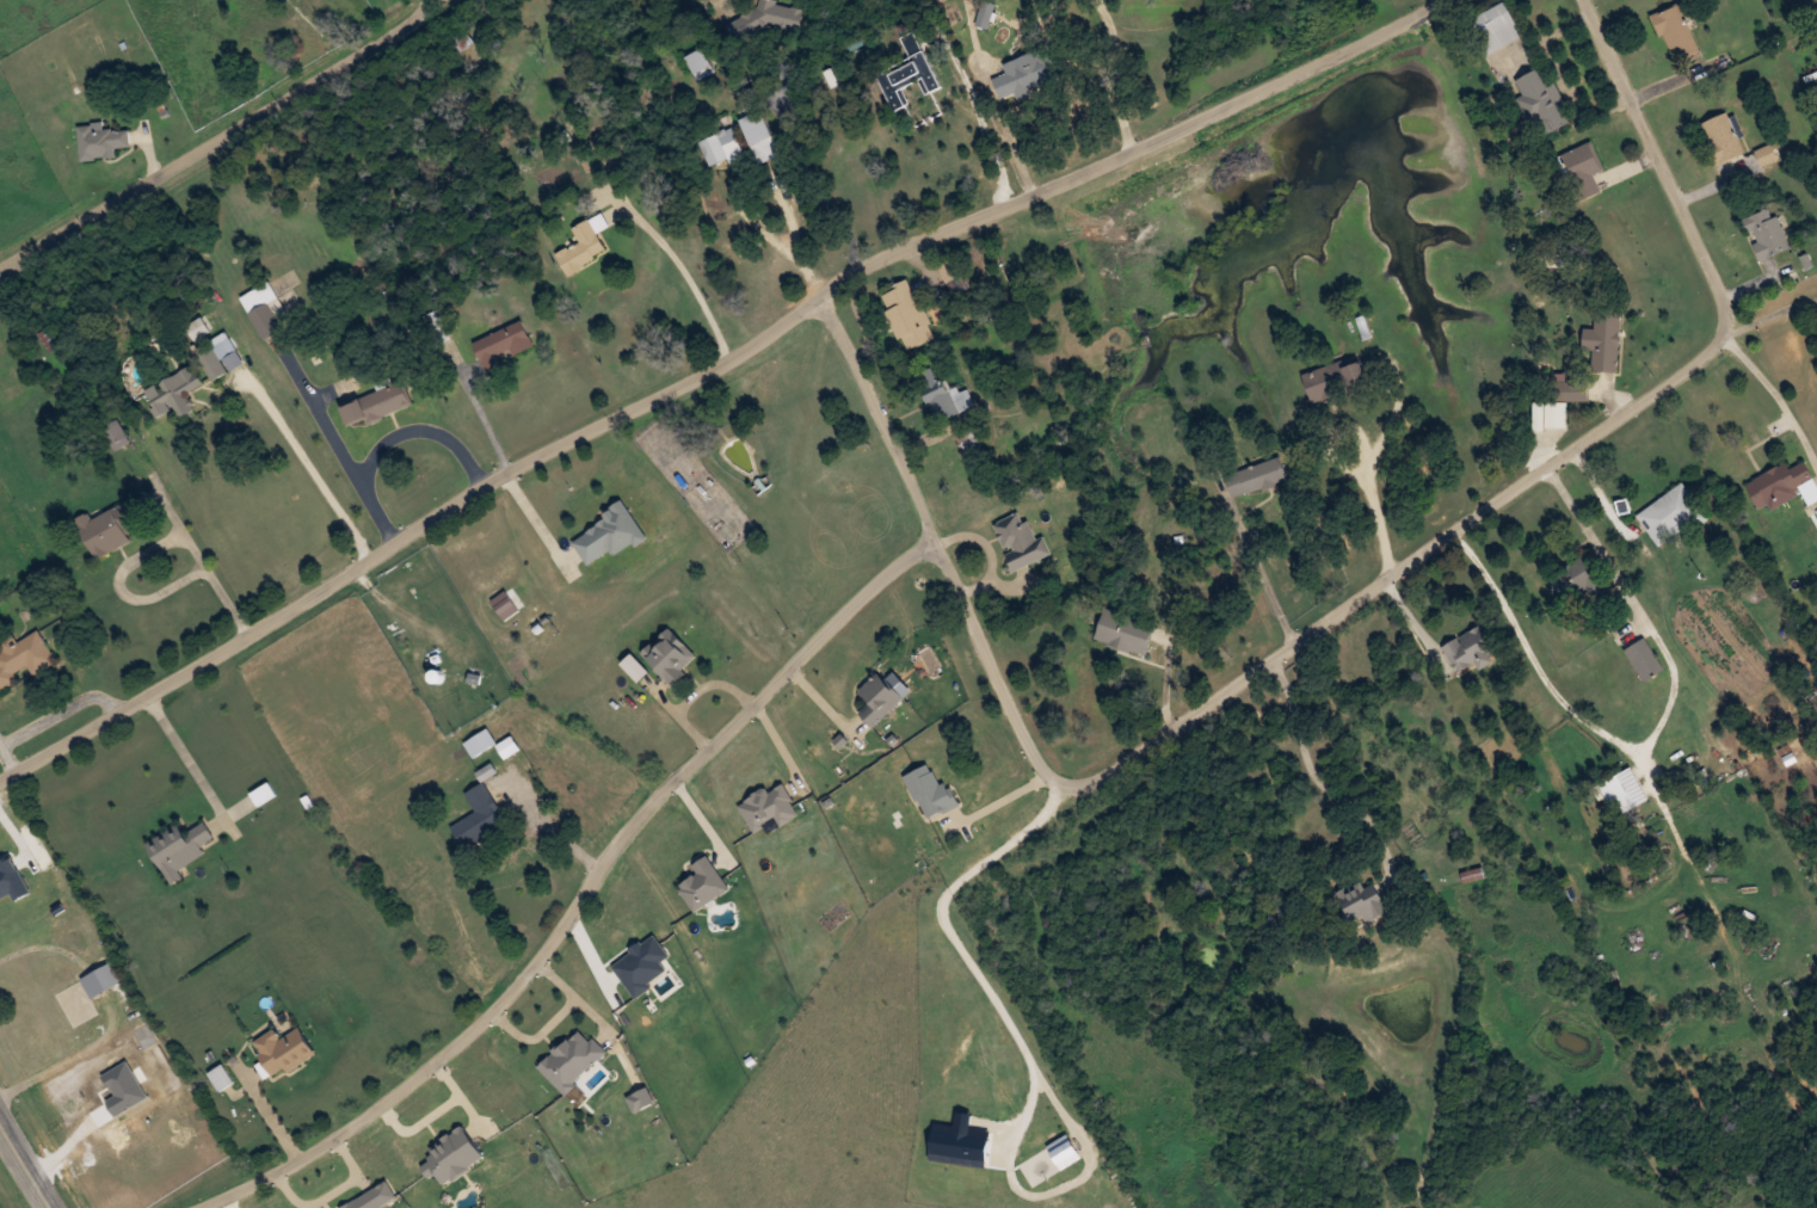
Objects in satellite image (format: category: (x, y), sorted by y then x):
building: (1493, 29)
building: (1676, 32)
building: (912, 68)
building: (1027, 73)
building: (1541, 101)
road: (213, 130)
building: (1721, 137)
building: (101, 141)
building: (721, 147)
building: (766, 148)
building: (1583, 168)
building: (1766, 233)
building: (586, 242)
building: (951, 270)
building: (265, 309)
building: (907, 314)
building: (1603, 340)
building: (503, 344)
building: (217, 358)
road: (710, 378)
building: (1335, 378)
building: (1575, 390)
building: (173, 392)
building: (946, 395)
building: (375, 405)
building: (116, 433)
building: (1256, 477)
building: (1782, 485)
building: (1671, 514)
building: (110, 528)
building: (609, 535)
building: (1021, 541)
building: (1579, 579)
road: (1326, 625)
building: (1123, 630)
building: (1470, 649)
building: (671, 657)
building: (23, 658)
building: (1644, 659)
building: (879, 698)
building: (1622, 791)
building: (480, 816)
building: (179, 849)
building: (1474, 873)
building: (703, 883)
road: (586, 898)
building: (1362, 904)
building: (284, 1049)
building: (572, 1059)
building: (221, 1077)
road: (25, 1164)

